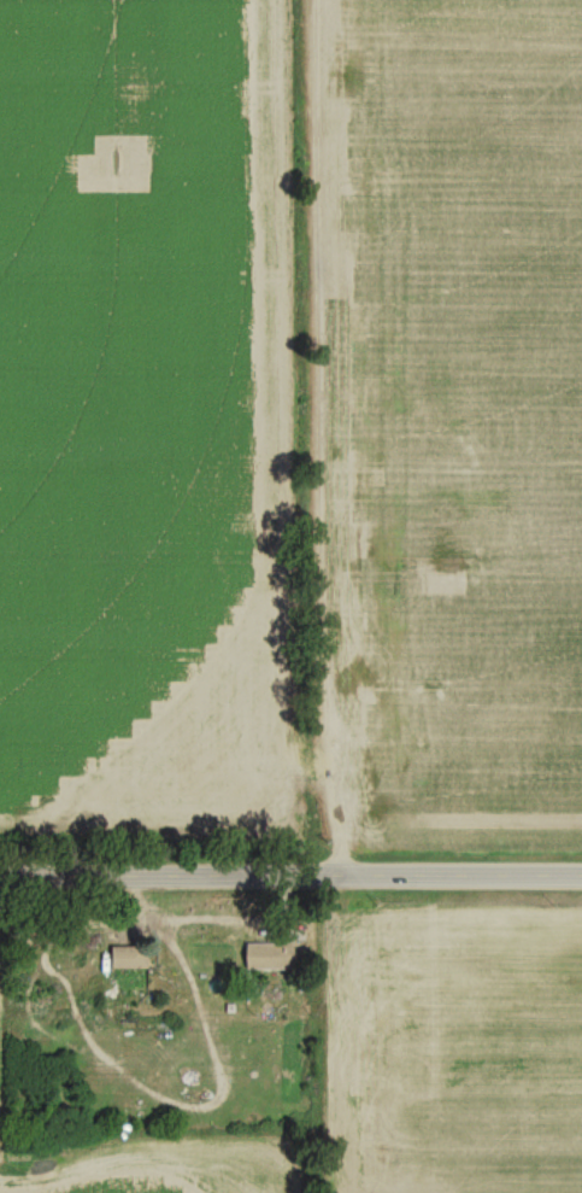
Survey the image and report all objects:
crop: (443, 414)
crop: (152, 422)
road: (290, 866)
building: (270, 959)
building: (130, 961)

